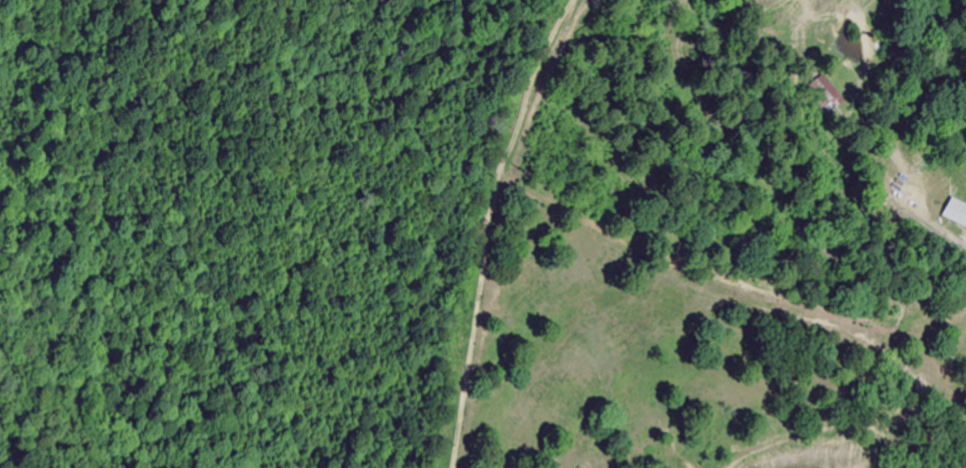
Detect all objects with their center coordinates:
building: (821, 95)
building: (955, 211)

